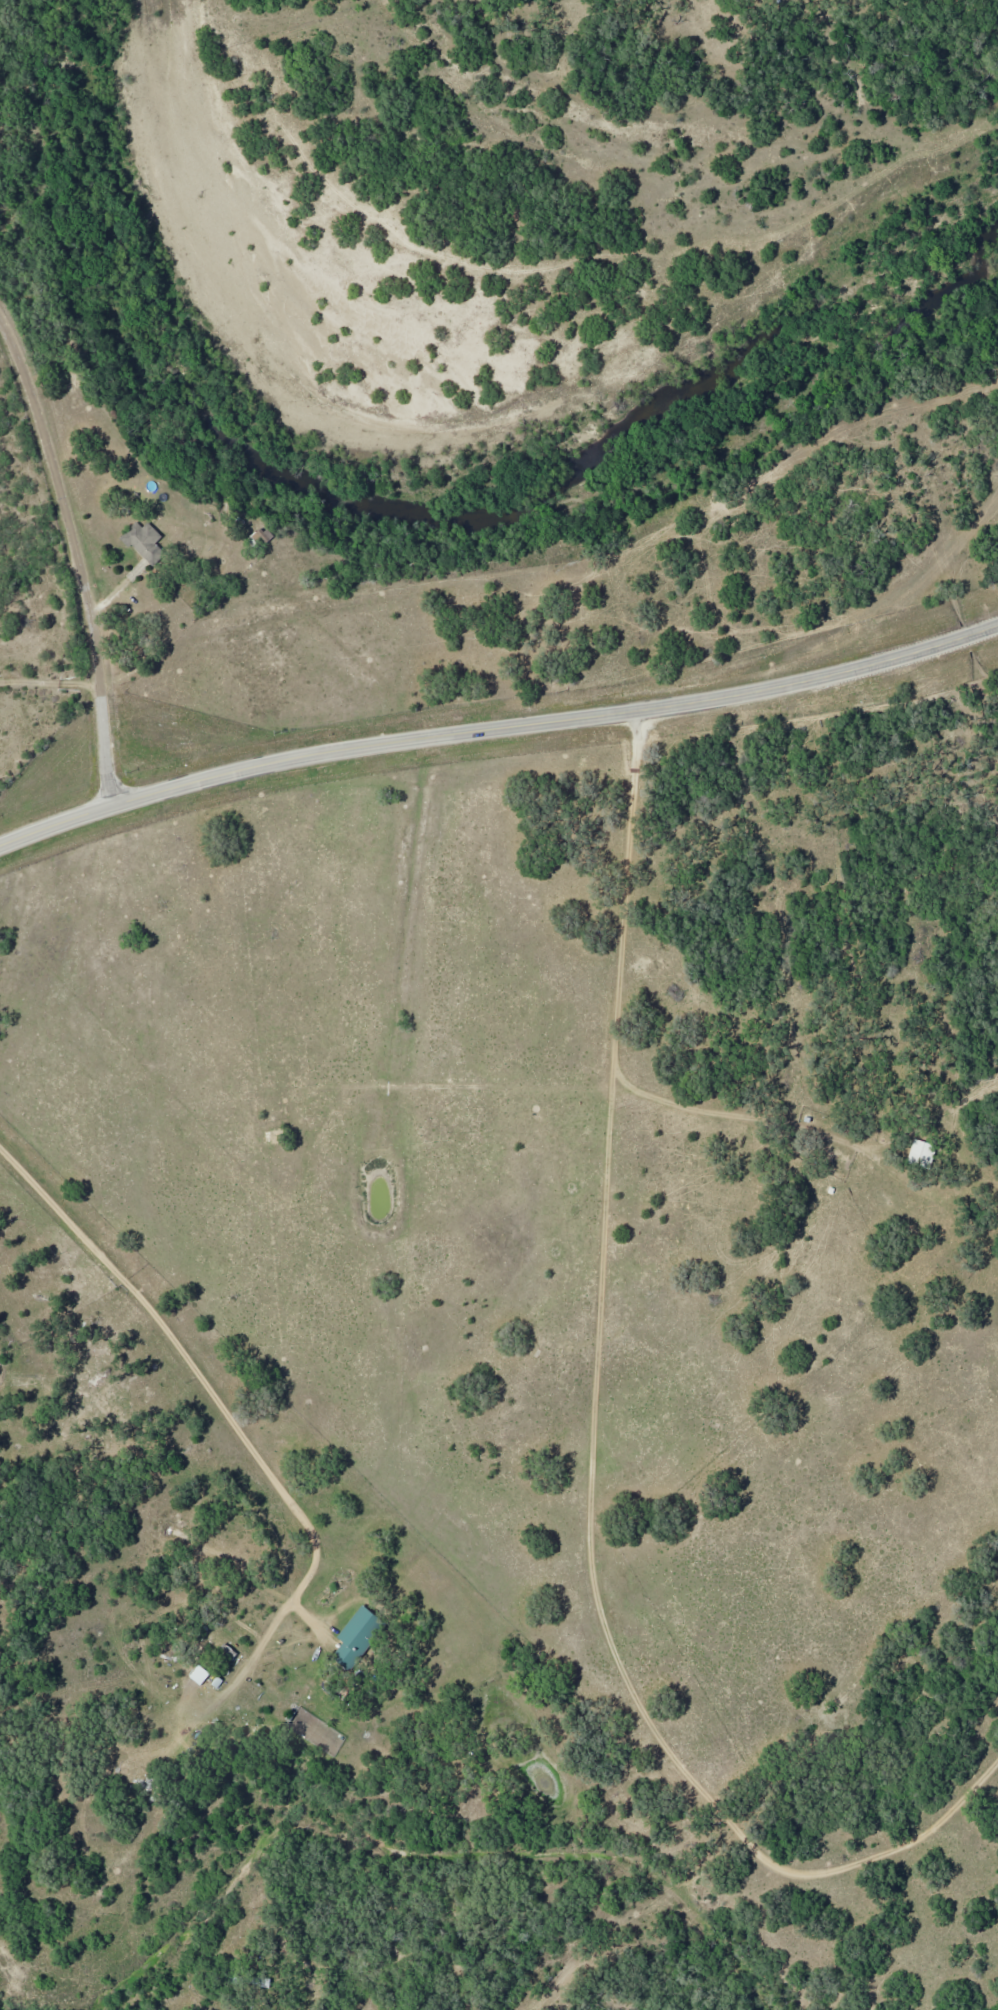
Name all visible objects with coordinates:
building: (262, 537)
building: (145, 541)
road: (81, 548)
road: (497, 724)
building: (273, 1137)
building: (923, 1153)
road: (213, 1392)
building: (359, 1636)
building: (201, 1674)

